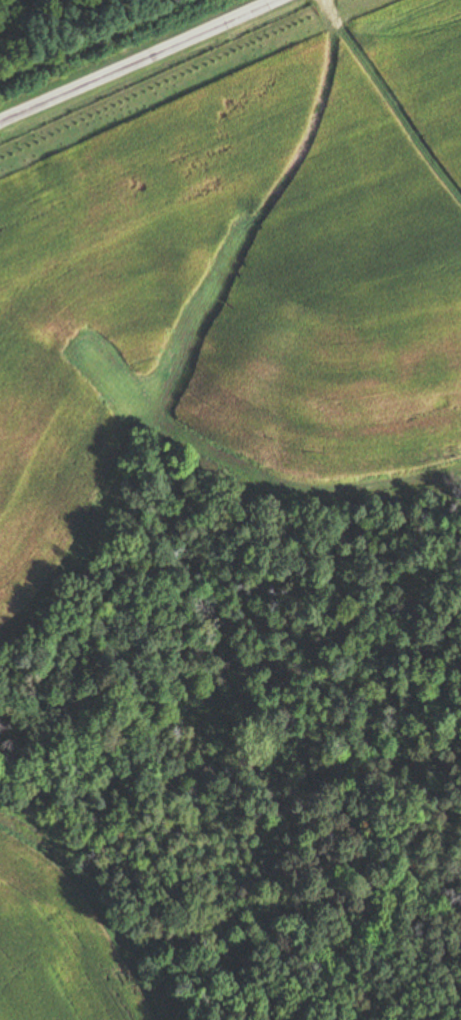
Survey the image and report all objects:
road: (146, 62)

